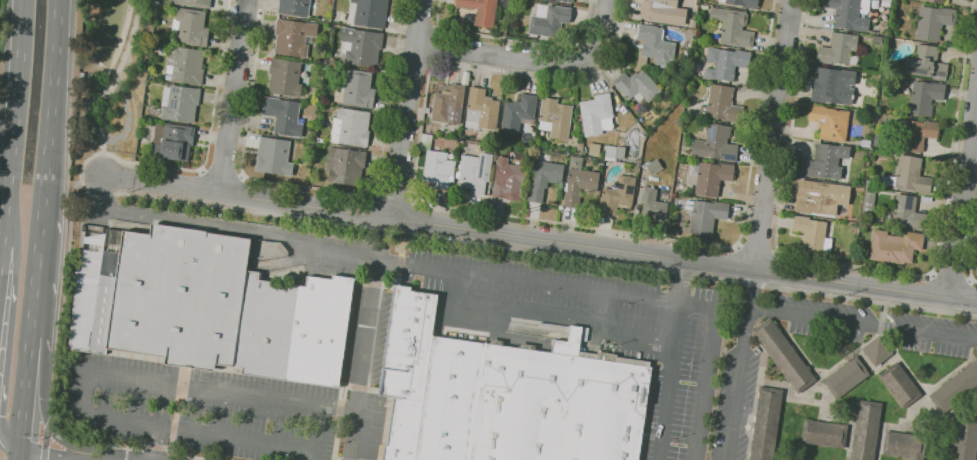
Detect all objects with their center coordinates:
building: (555, 0)
building: (569, 0)
building: (938, 0)
building: (194, 2)
building: (744, 3)
building: (886, 3)
building: (294, 7)
building: (481, 10)
building: (664, 11)
building: (371, 13)
building: (851, 13)
building: (549, 19)
building: (934, 22)
road: (419, 25)
building: (733, 26)
building: (190, 27)
building: (294, 36)
road: (517, 40)
building: (878, 40)
building: (888, 41)
building: (657, 44)
building: (361, 46)
road: (439, 47)
building: (839, 49)
road: (415, 60)
road: (536, 60)
building: (726, 63)
building: (926, 63)
building: (186, 64)
rooftop solar panel: (914, 69)
rooftop solar panel: (941, 72)
road: (115, 75)
building: (285, 77)
building: (638, 86)
building: (834, 86)
building: (356, 88)
road: (234, 96)
building: (926, 97)
park: (115, 98)
building: (180, 103)
building: (723, 104)
building: (449, 105)
road: (407, 108)
building: (481, 109)
building: (519, 113)
building: (597, 114)
building: (284, 115)
building: (556, 118)
road: (13, 121)
building: (830, 122)
building: (351, 127)
rooftop solar panel: (712, 131)
building: (918, 133)
road: (209, 134)
road: (773, 134)
building: (882, 140)
building: (173, 141)
building: (866, 142)
building: (716, 144)
building: (580, 146)
building: (611, 152)
building: (621, 152)
rooftop solar panel: (728, 155)
building: (274, 156)
building: (826, 161)
road: (86, 163)
building: (437, 164)
building: (655, 167)
road: (44, 168)
building: (346, 168)
road: (222, 171)
building: (476, 172)
building: (909, 175)
building: (712, 176)
building: (509, 179)
building: (544, 179)
building: (580, 185)
rooftop solar panel: (620, 186)
road: (317, 187)
building: (861, 188)
rooftop solar panel: (629, 189)
road: (393, 195)
building: (618, 195)
building: (822, 197)
road: (962, 199)
building: (869, 201)
rooftop solar panel: (910, 203)
building: (653, 204)
building: (907, 213)
road: (508, 215)
building: (706, 215)
building: (813, 233)
road: (405, 234)
road: (539, 240)
building: (895, 246)
road: (398, 248)
road: (757, 249)
road: (972, 251)
road: (373, 260)
road: (865, 266)
road: (952, 276)
parking lot: (358, 296)
building: (206, 306)
road: (557, 314)
road: (863, 323)
parking lot: (604, 325)
road: (9, 339)
building: (878, 350)
building: (784, 355)
road: (363, 360)
road: (672, 360)
road: (708, 365)
road: (741, 365)
building: (847, 377)
building: (901, 385)
building: (956, 389)
road: (23, 392)
building: (506, 395)
road: (259, 398)
road: (42, 402)
parking lot: (197, 408)
road: (158, 422)
building: (767, 423)
road: (49, 424)
road: (139, 425)
building: (867, 430)
road: (317, 433)
building: (825, 433)
building: (965, 438)
road: (45, 439)
building: (905, 445)
traffic signals: (18, 448)
road: (50, 450)
road: (43, 452)
road: (17, 454)
road: (77, 457)
road: (103, 457)

